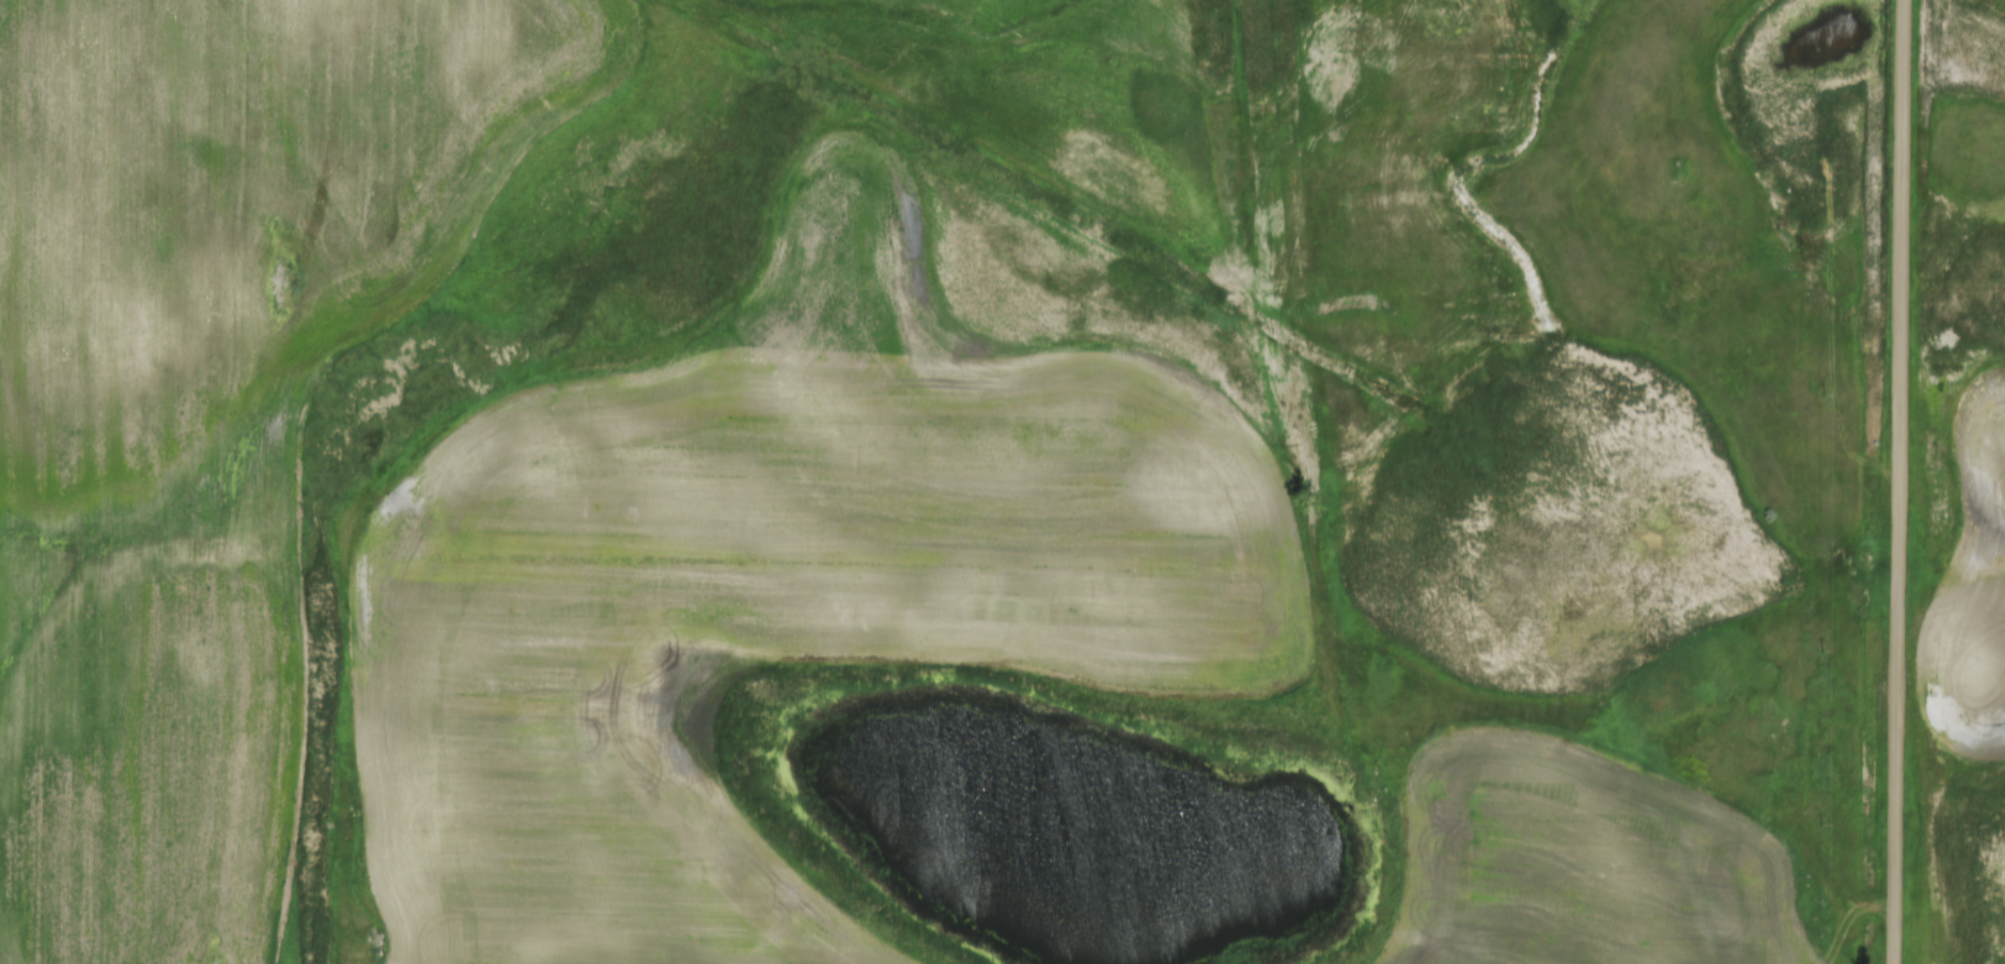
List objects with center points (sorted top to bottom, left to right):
road: (1900, 482)

